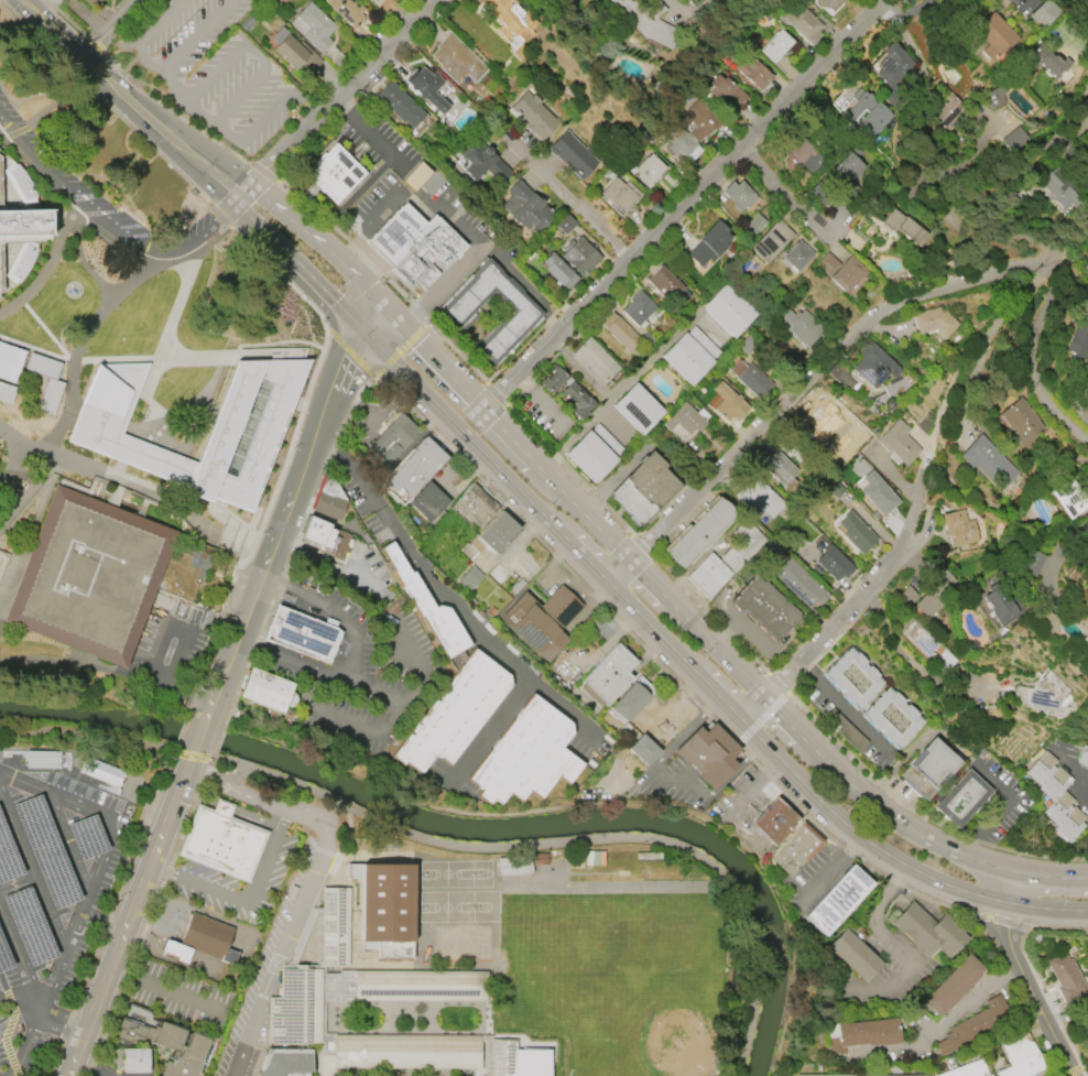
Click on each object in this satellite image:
building: (88, 3)
road: (891, 3)
building: (388, 4)
building: (826, 4)
building: (1043, 12)
building: (347, 13)
building: (502, 19)
building: (646, 21)
building: (802, 23)
building: (313, 28)
road: (111, 30)
road: (903, 32)
building: (993, 36)
building: (775, 45)
road: (255, 50)
building: (294, 56)
traffic signals: (83, 59)
building: (457, 61)
building: (1047, 64)
building: (891, 65)
road: (161, 70)
parking lot: (214, 70)
building: (753, 73)
building: (425, 88)
building: (727, 91)
building: (1087, 93)
road: (337, 96)
building: (993, 98)
road: (129, 99)
road: (305, 101)
building: (400, 107)
building: (947, 111)
building: (866, 112)
building: (534, 116)
building: (699, 120)
road: (365, 128)
road: (227, 132)
building: (1013, 139)
building: (679, 143)
building: (799, 150)
building: (573, 155)
building: (481, 160)
building: (1087, 167)
building: (649, 171)
building: (847, 173)
building: (329, 176)
parking lot: (76, 181)
building: (19, 184)
building: (1059, 188)
road: (417, 194)
building: (621, 194)
building: (736, 198)
road: (786, 198)
road: (574, 204)
road: (67, 207)
building: (525, 208)
road: (685, 209)
road: (108, 219)
road: (293, 220)
building: (21, 225)
building: (565, 225)
building: (903, 226)
building: (753, 227)
road: (370, 228)
building: (772, 241)
building: (709, 243)
building: (413, 247)
building: (580, 256)
building: (796, 256)
road: (469, 258)
road: (296, 263)
building: (20, 264)
building: (827, 264)
road: (45, 272)
building: (558, 272)
building: (1086, 273)
building: (847, 274)
road: (359, 283)
road: (526, 283)
building: (667, 285)
traffic signals: (381, 305)
building: (640, 309)
building: (729, 309)
building: (459, 312)
road: (100, 313)
road: (391, 315)
road: (370, 316)
building: (932, 323)
building: (799, 326)
traffic signals: (359, 327)
building: (620, 333)
road: (166, 334)
building: (1079, 336)
road: (958, 339)
building: (747, 344)
building: (690, 355)
road: (65, 356)
road: (1035, 358)
road: (69, 359)
road: (117, 360)
building: (592, 362)
building: (872, 366)
building: (553, 379)
building: (750, 379)
road: (802, 388)
road: (617, 393)
building: (1084, 394)
road: (542, 400)
building: (577, 400)
building: (728, 404)
building: (638, 410)
building: (822, 410)
building: (1022, 421)
building: (684, 423)
building: (240, 435)
building: (394, 439)
building: (897, 443)
building: (594, 453)
building: (988, 463)
building: (779, 468)
building: (414, 469)
road: (124, 483)
road: (30, 488)
building: (645, 489)
building: (878, 493)
building: (1069, 497)
building: (759, 499)
building: (429, 502)
building: (476, 506)
road: (281, 517)
building: (322, 517)
building: (958, 529)
building: (856, 532)
building: (497, 533)
building: (700, 533)
building: (742, 545)
road: (1055, 556)
building: (834, 564)
building: (1038, 564)
building: (88, 576)
building: (708, 576)
building: (469, 578)
building: (801, 584)
road: (440, 593)
building: (931, 593)
building: (427, 606)
building: (997, 607)
building: (1085, 608)
building: (766, 609)
building: (542, 620)
road: (692, 626)
road: (826, 632)
parking lot: (172, 635)
building: (300, 637)
building: (917, 639)
road: (183, 641)
road: (603, 643)
road: (665, 643)
road: (356, 656)
road: (66, 661)
road: (134, 661)
building: (609, 676)
building: (852, 678)
building: (1042, 692)
road: (189, 693)
building: (261, 694)
building: (630, 702)
road: (673, 702)
road: (847, 708)
building: (454, 714)
building: (892, 718)
road: (200, 728)
road: (383, 731)
road: (85, 732)
road: (487, 736)
building: (645, 750)
road: (191, 752)
building: (710, 754)
building: (526, 757)
building: (1082, 757)
building: (42, 758)
road: (1068, 763)
building: (928, 769)
building: (100, 770)
road: (668, 775)
road: (749, 787)
road: (175, 792)
building: (1055, 796)
building: (961, 800)
road: (610, 803)
road: (999, 806)
road: (227, 807)
road: (56, 818)
building: (771, 820)
river: (476, 827)
road: (569, 840)
building: (226, 844)
building: (794, 848)
road: (828, 865)
road: (31, 871)
road: (305, 878)
road: (1052, 879)
track: (605, 884)
road: (1014, 890)
parking lot: (50, 898)
road: (246, 900)
building: (835, 900)
building: (389, 903)
road: (1048, 910)
road: (74, 920)
road: (100, 920)
road: (873, 925)
building: (927, 931)
building: (209, 935)
building: (443, 942)
building: (461, 942)
building: (480, 943)
road: (115, 950)
building: (177, 950)
building: (852, 955)
road: (20, 958)
building: (1065, 977)
road: (2, 980)
park: (613, 986)
building: (953, 986)
road: (167, 987)
building: (423, 988)
road: (9, 992)
road: (1031, 992)
road: (21, 997)
road: (967, 1004)
road: (12, 1009)
road: (54, 1015)
building: (975, 1024)
road: (7, 1031)
building: (863, 1034)
building: (164, 1040)
building: (1020, 1056)
building: (137, 1061)
road: (89, 1065)
road: (68, 1068)
building: (967, 1069)
road: (18, 1075)
building: (824, 1075)
building: (894, 1075)

